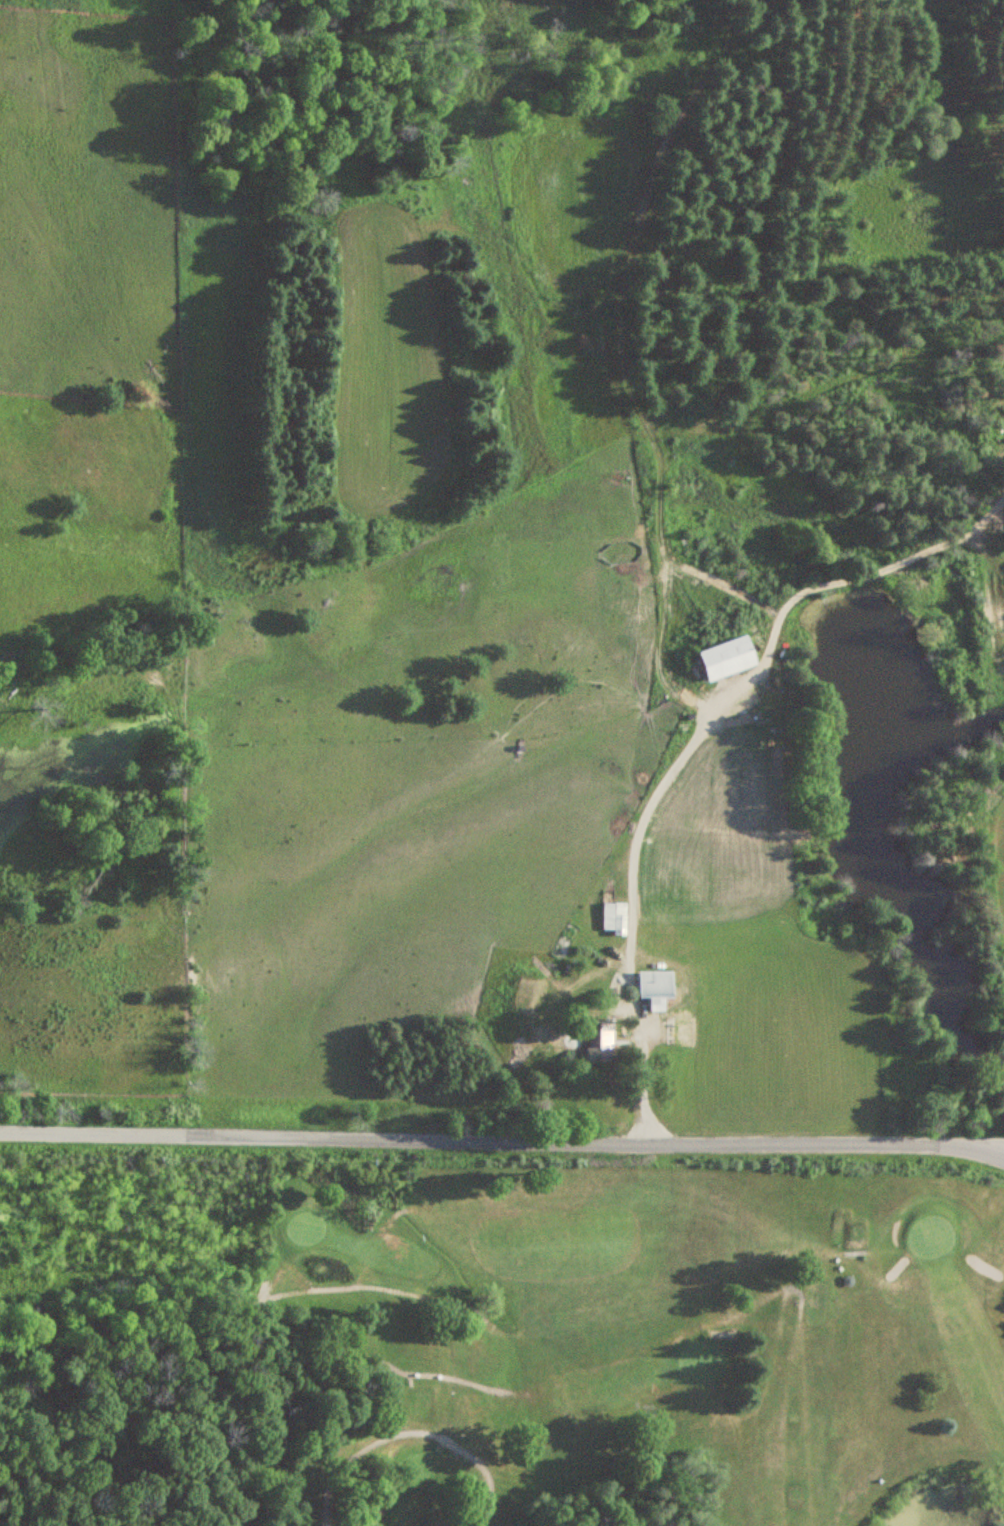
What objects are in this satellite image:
building: (726, 658)
building: (613, 918)
building: (655, 987)
building: (593, 1041)
road: (501, 1136)
road: (981, 1152)
park: (625, 1346)

